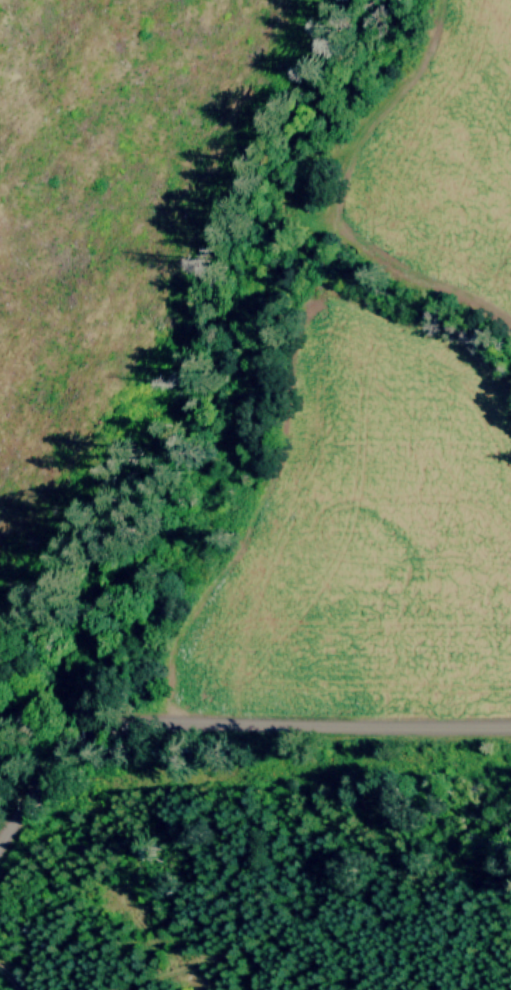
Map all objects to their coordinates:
road: (231, 720)

